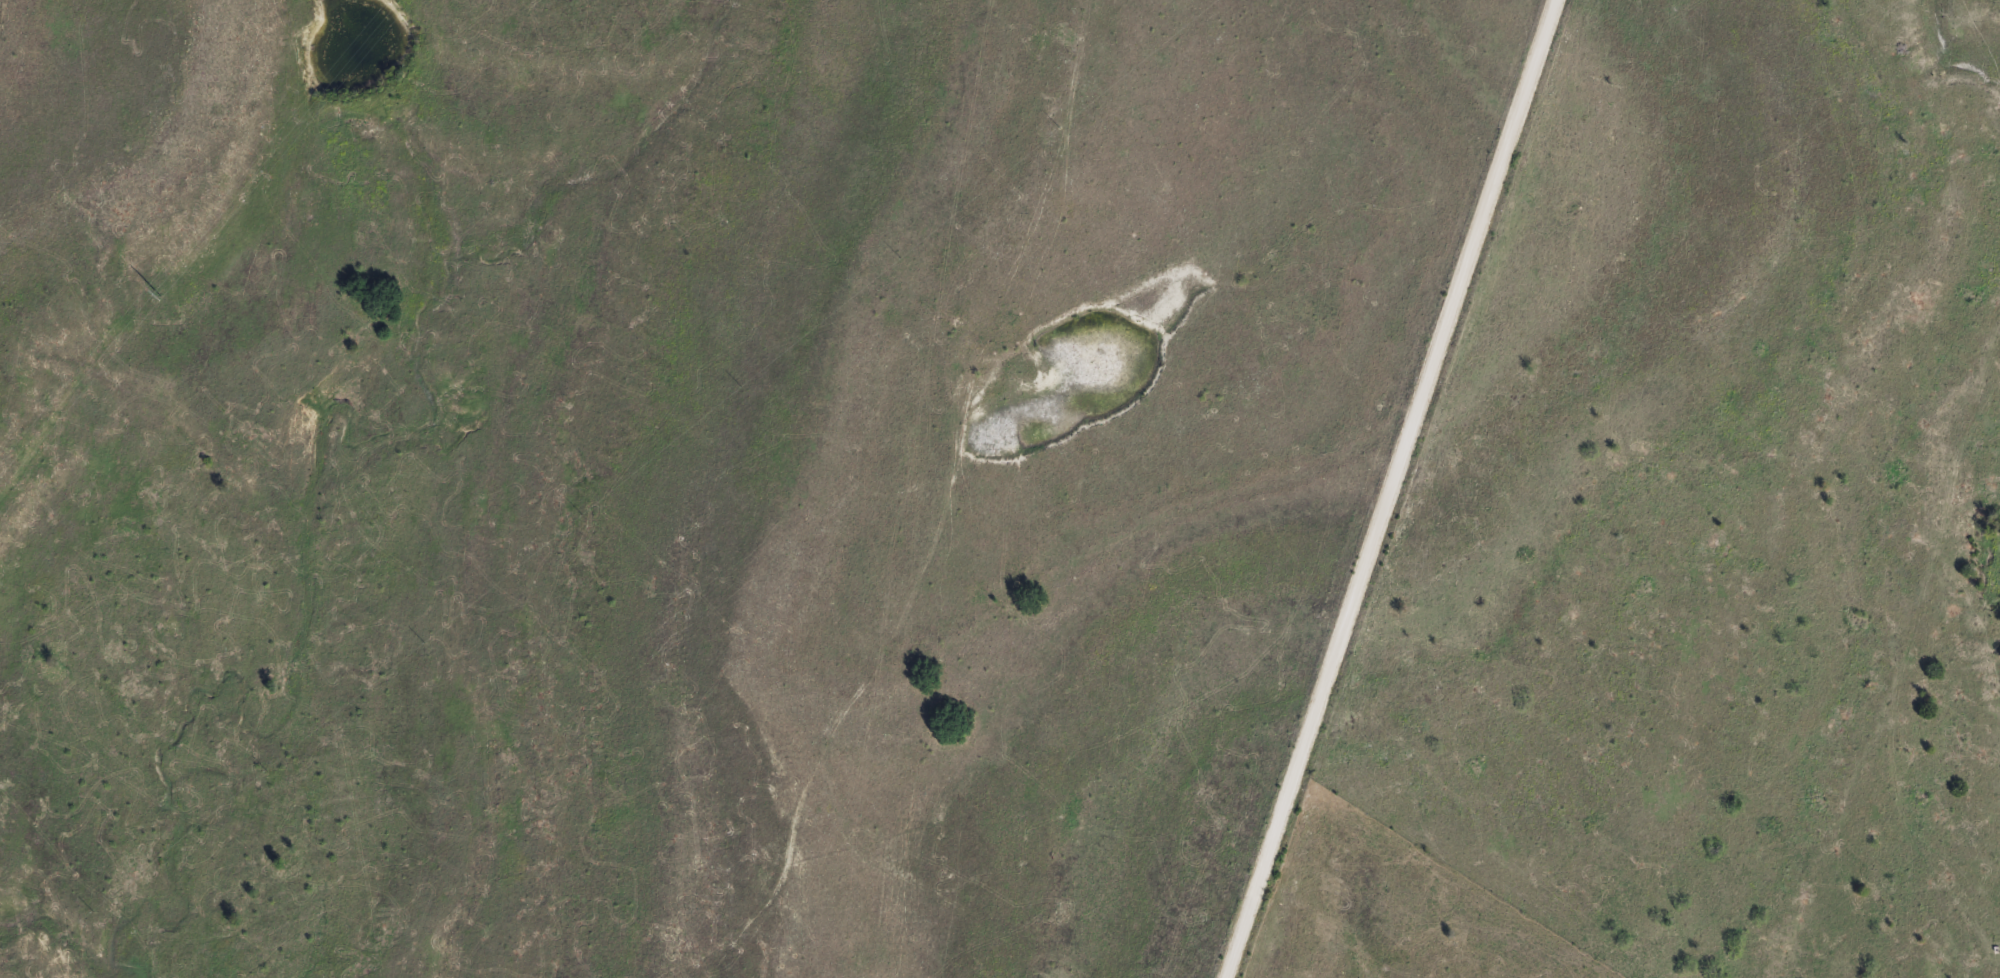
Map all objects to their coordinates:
power tower: (158, 291)
road: (1386, 489)

